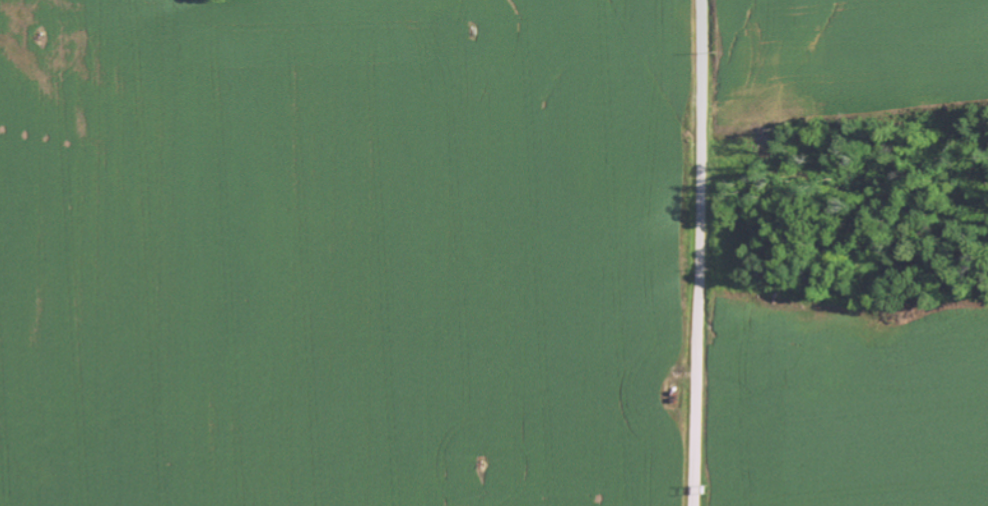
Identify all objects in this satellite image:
road: (698, 252)

